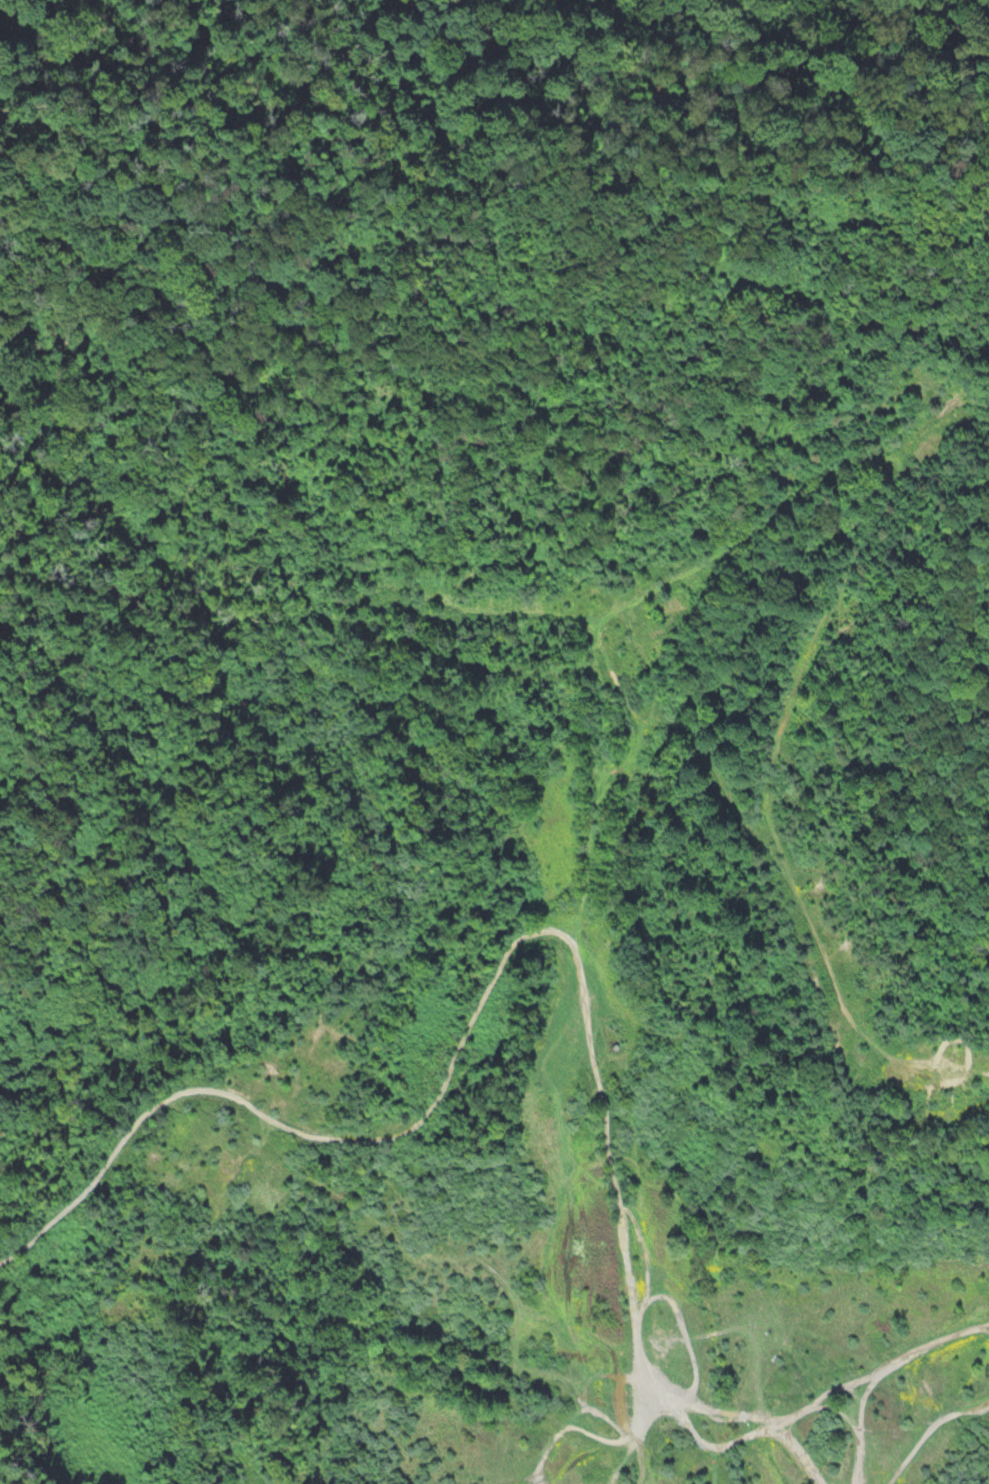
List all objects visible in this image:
road: (773, 756)
road: (511, 953)
road: (870, 1372)

